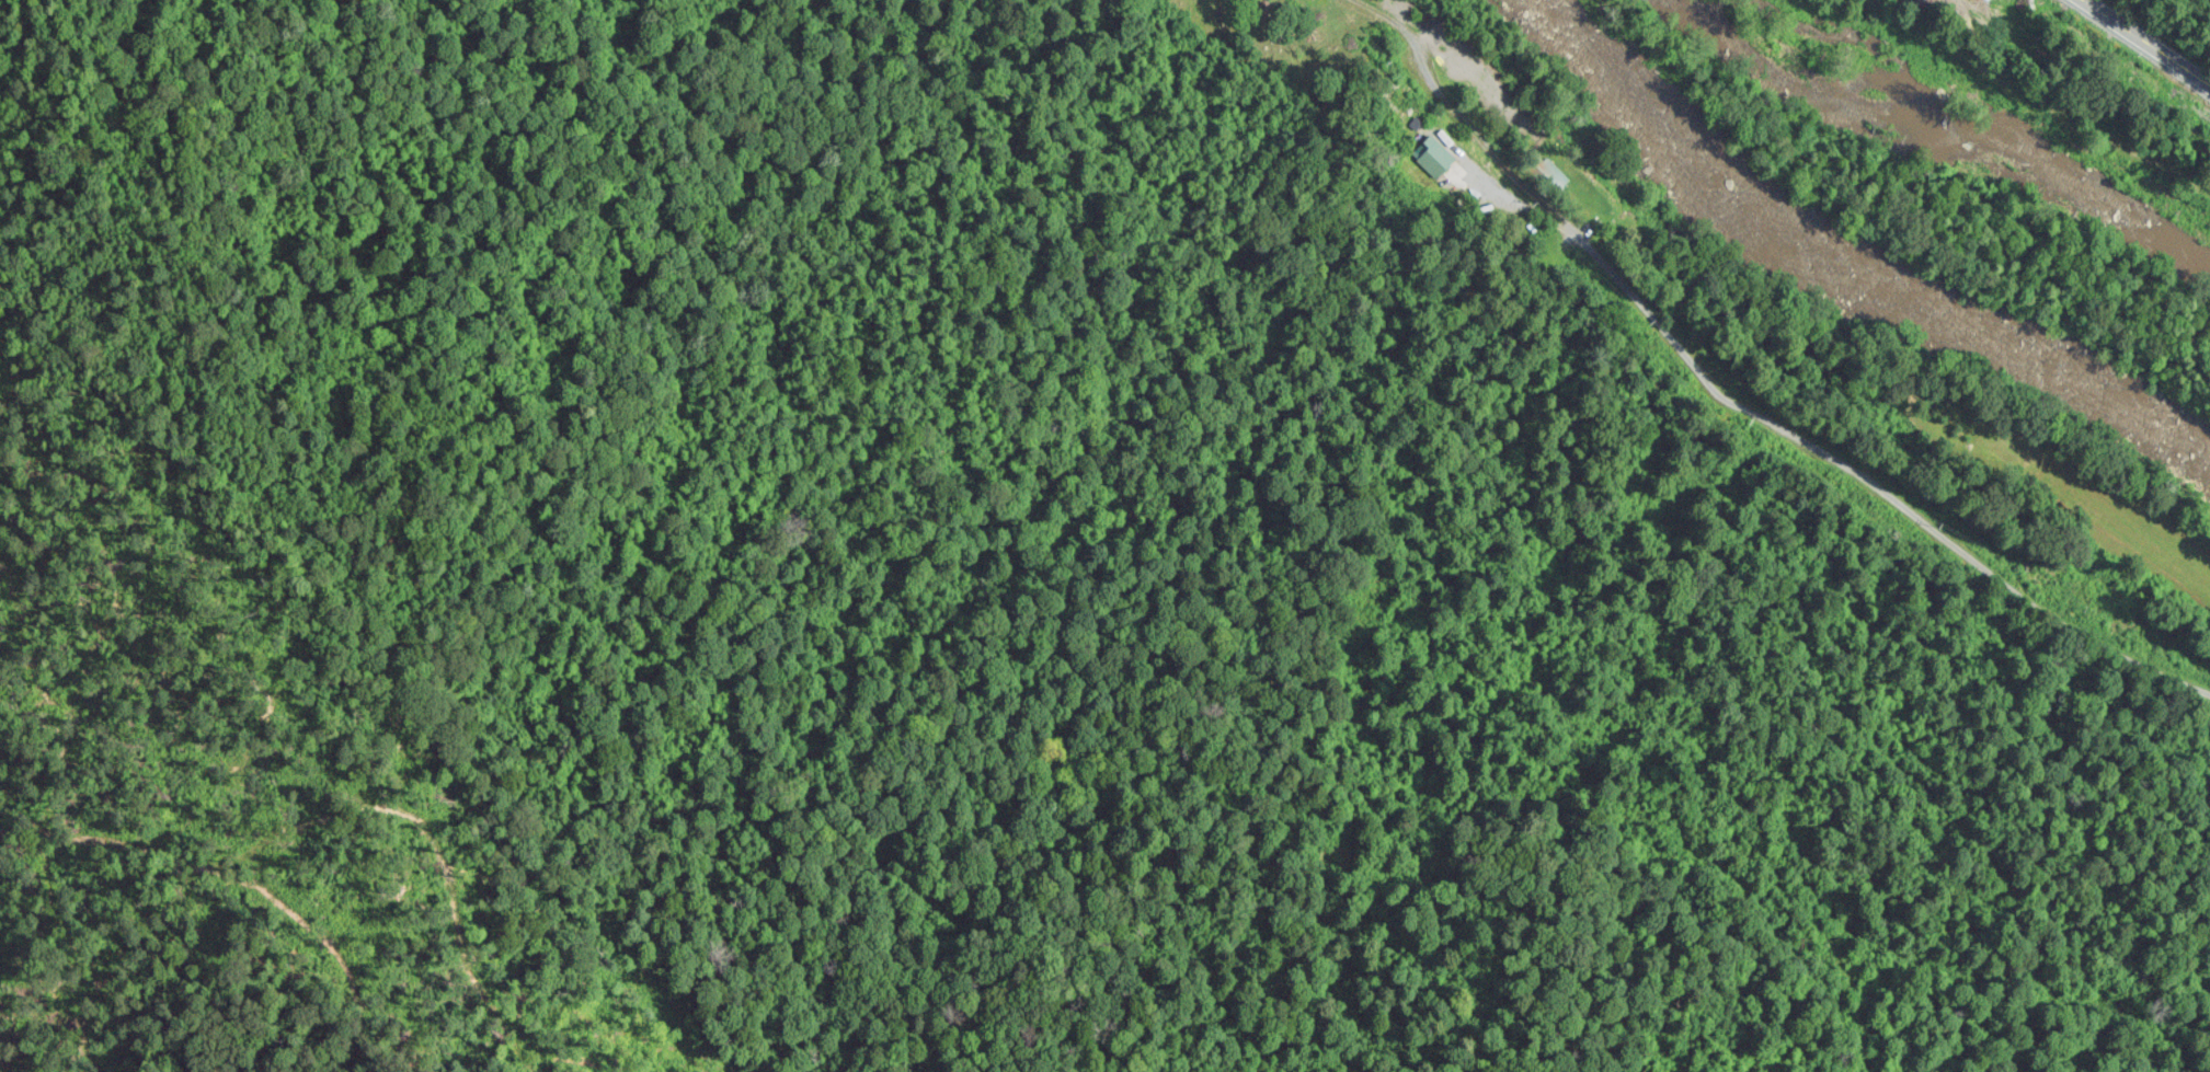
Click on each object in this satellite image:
road: (2151, 38)
road: (2013, 120)
river: (1812, 303)
road: (1733, 390)

